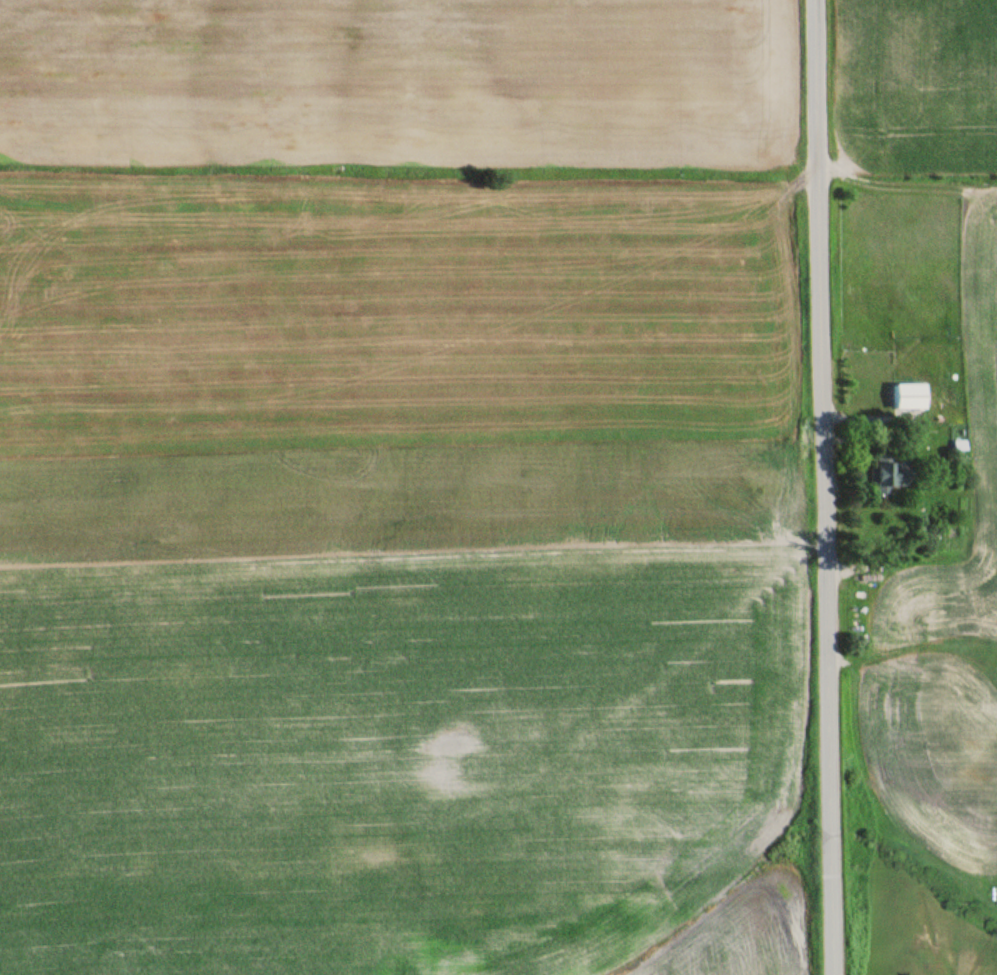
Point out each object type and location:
building: (911, 395)
building: (890, 469)
road: (828, 487)

